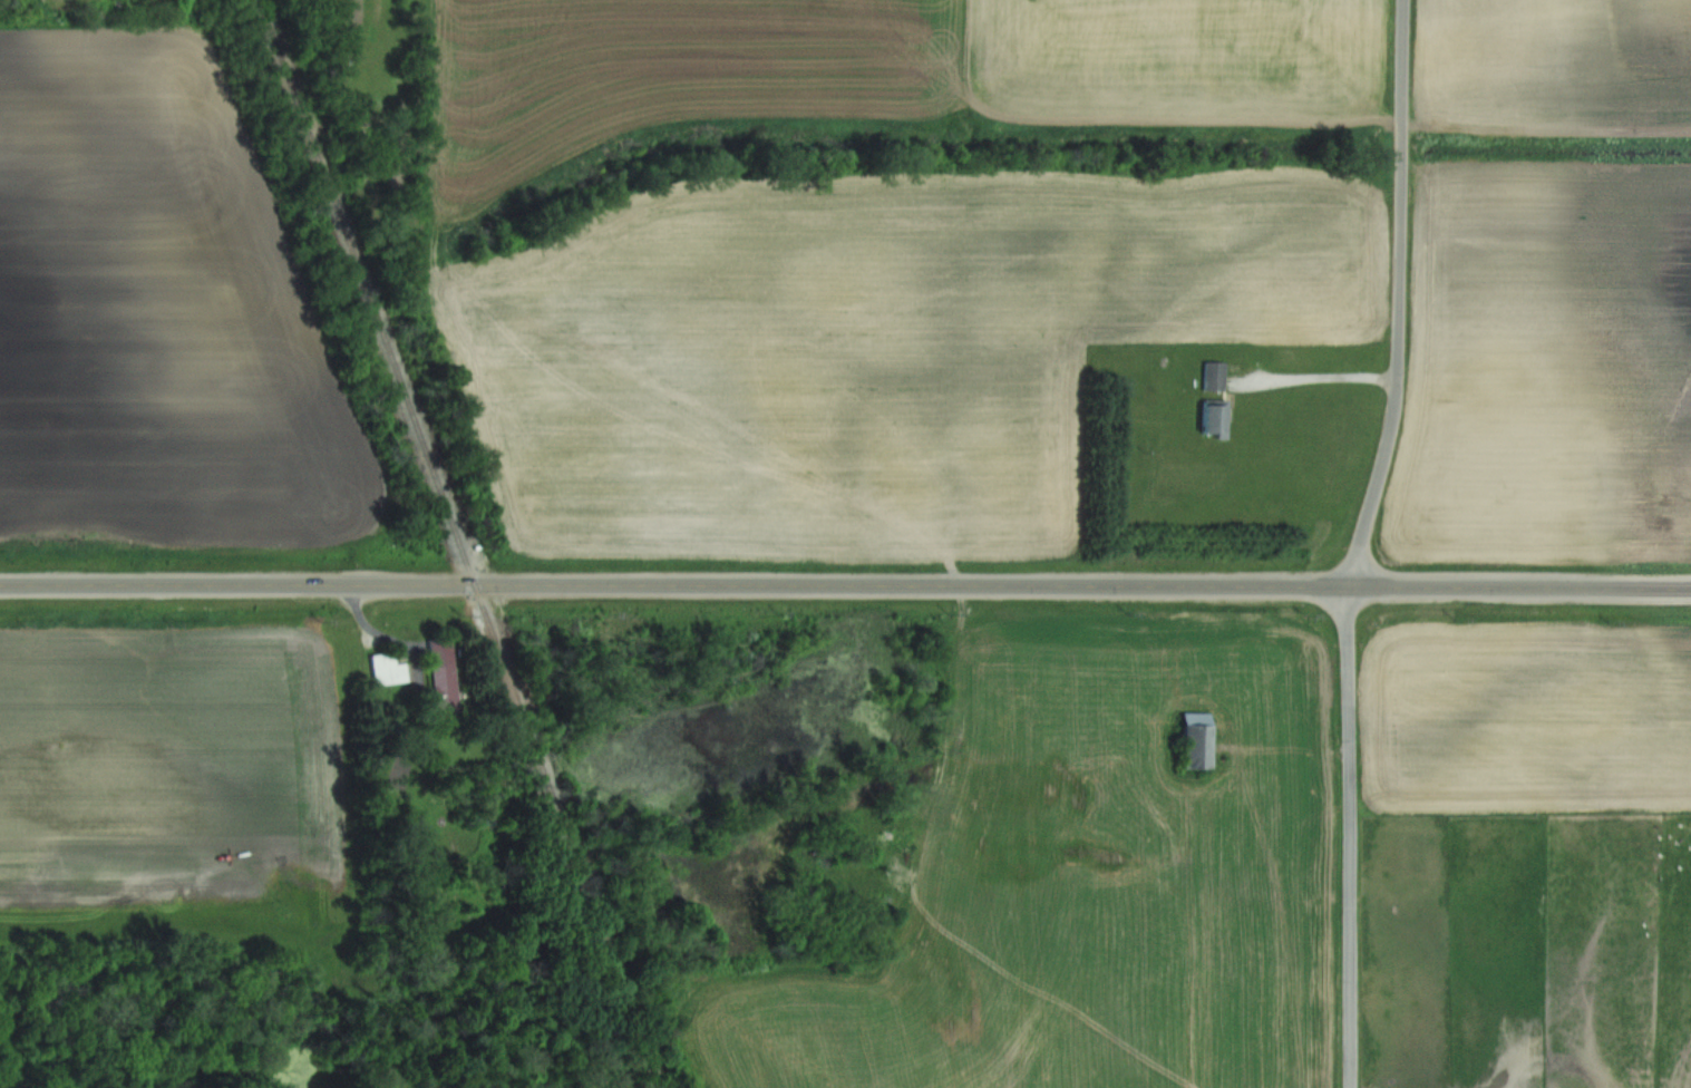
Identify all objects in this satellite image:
road: (1401, 295)
building: (1216, 376)
road: (1321, 376)
building: (1217, 419)
railway: (464, 544)
road: (845, 584)
building: (389, 670)
building: (446, 676)
building: (1201, 741)
road: (1353, 836)

